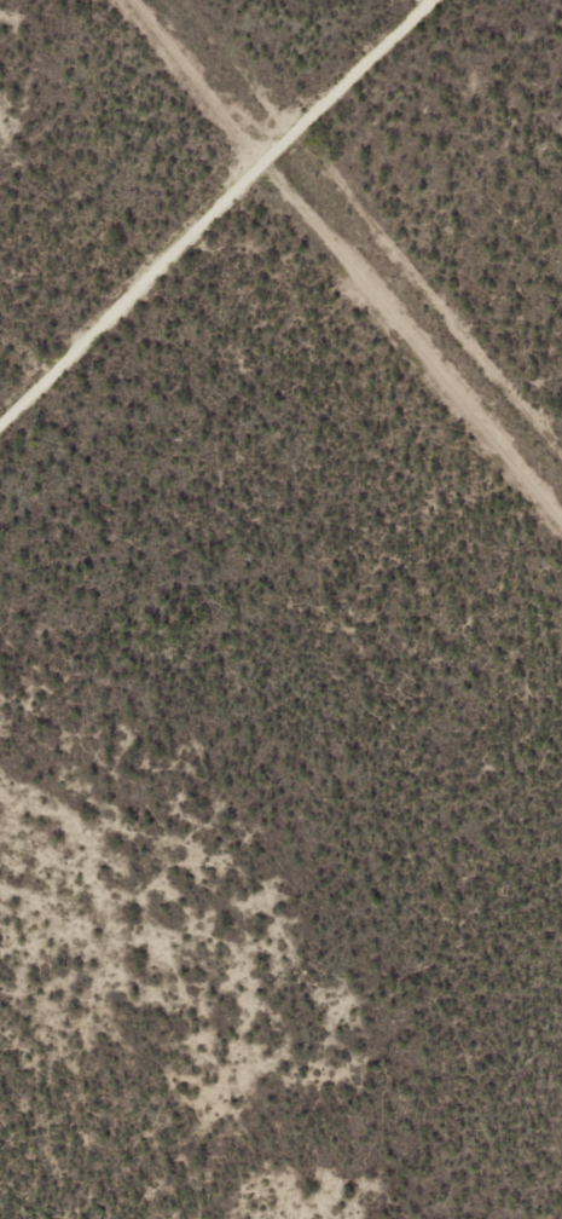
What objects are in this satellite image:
road: (236, 226)

